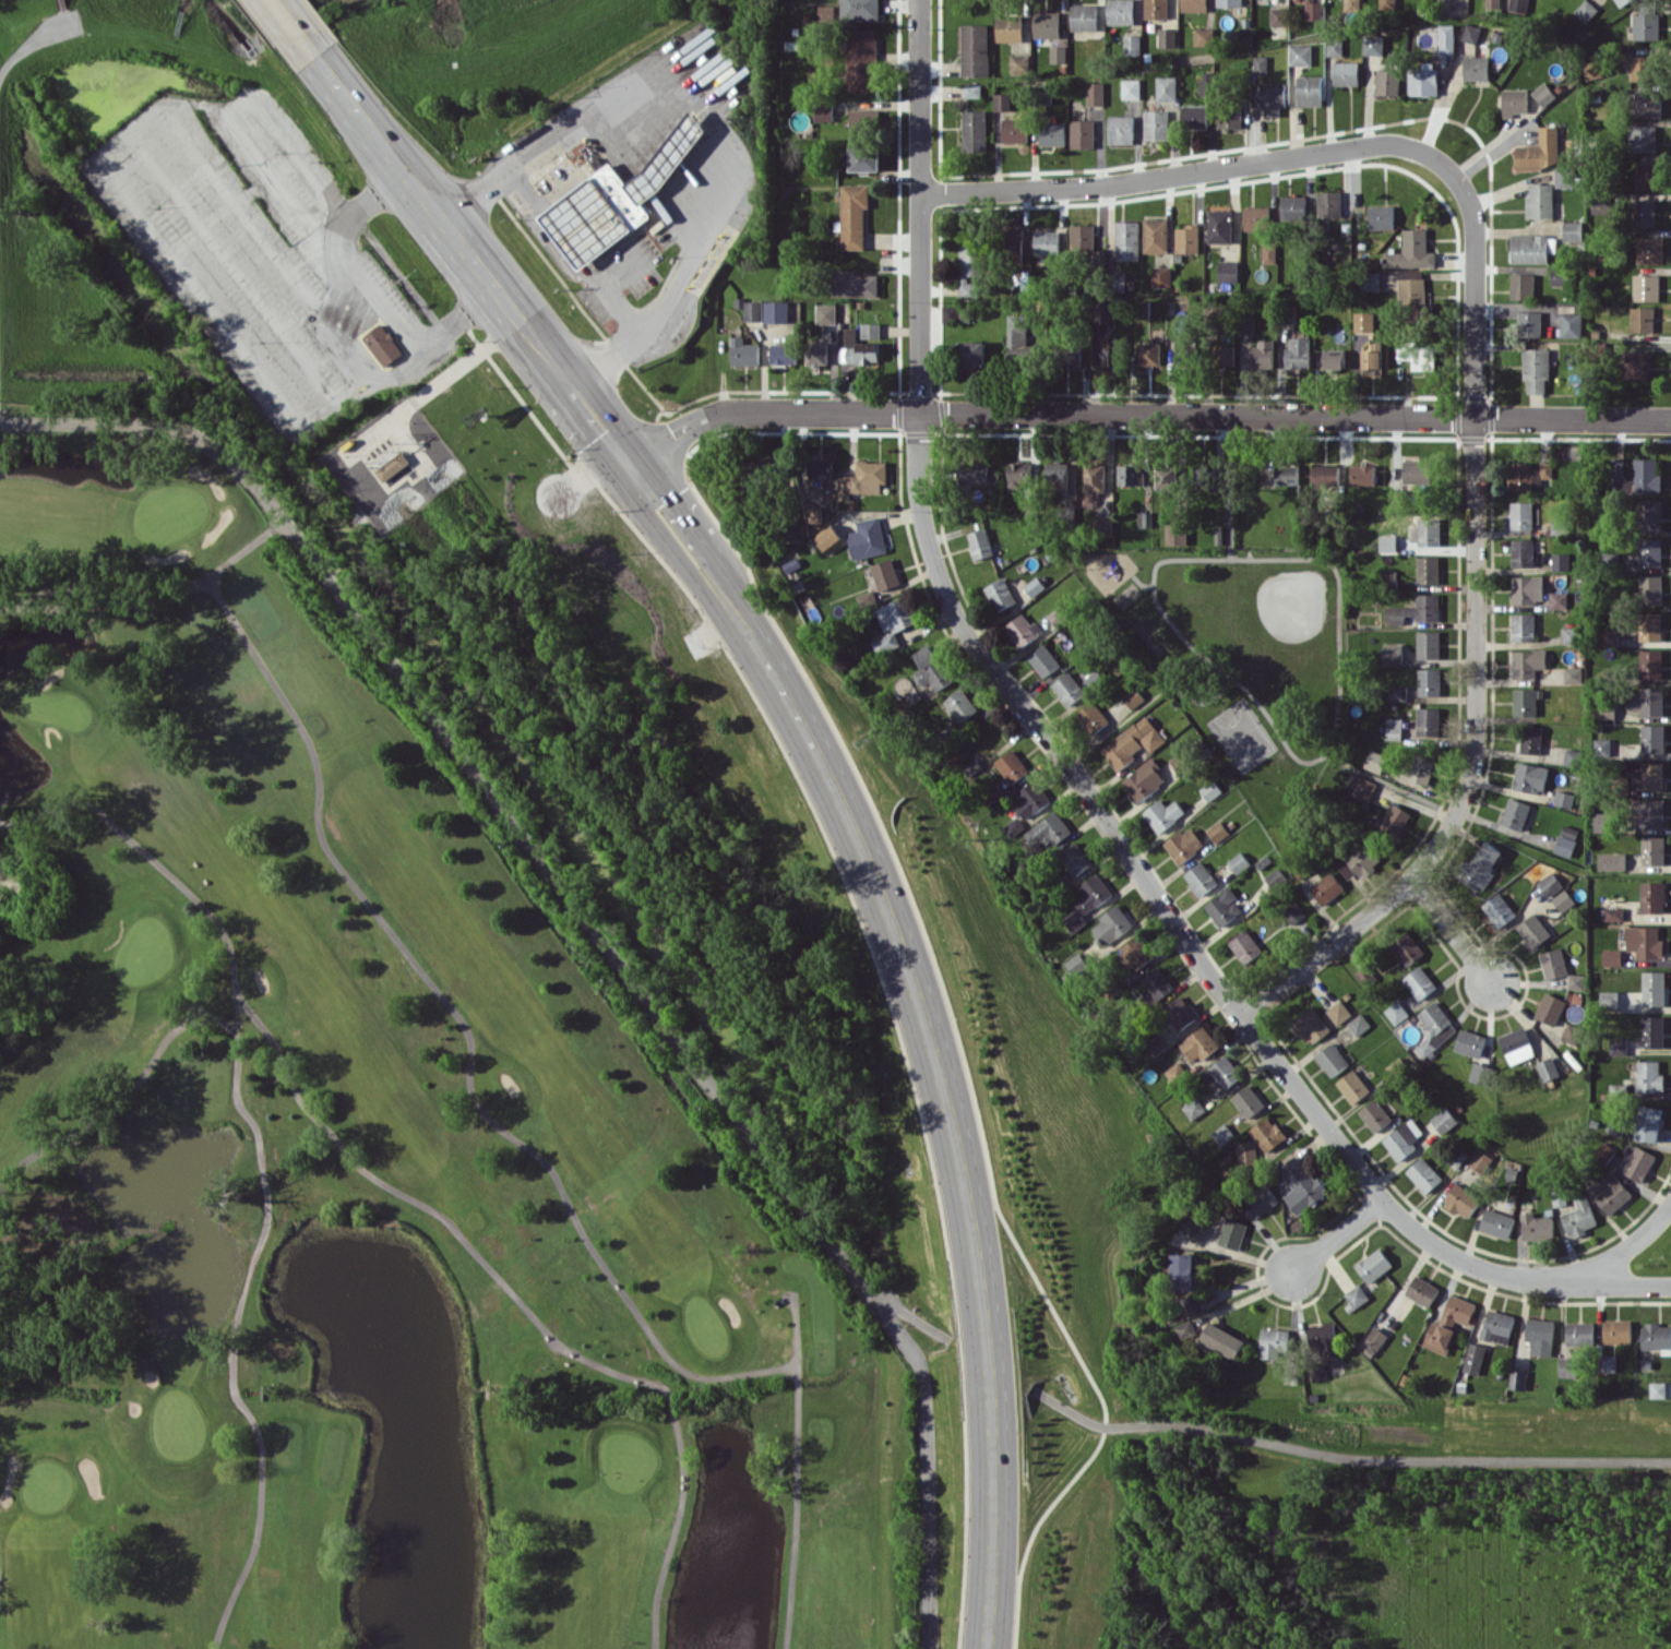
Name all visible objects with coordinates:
building: (1229, 2)
building: (1621, 2)
building: (1492, 3)
road: (63, 4)
building: (1387, 4)
building: (1518, 4)
building: (1194, 5)
building: (1351, 5)
building: (860, 9)
building: (1156, 9)
building: (1313, 10)
building: (1586, 10)
building: (1121, 12)
building: (826, 13)
building: (1277, 15)
road: (285, 16)
building: (1084, 16)
building: (1047, 24)
building: (1645, 25)
building: (1008, 28)
building: (1470, 33)
building: (1204, 36)
building: (1167, 37)
road: (35, 38)
building: (1447, 38)
building: (1132, 44)
building: (1373, 45)
building: (1095, 46)
building: (1335, 46)
building: (975, 49)
building: (1058, 53)
building: (1300, 55)
building: (862, 60)
building: (1019, 62)
building: (1260, 63)
building: (1640, 67)
building: (1476, 68)
building: (1346, 73)
building: (1387, 81)
building: (1422, 81)
building: (1207, 83)
building: (1167, 87)
building: (1131, 88)
building: (972, 89)
building: (1309, 91)
building: (1095, 93)
building: (1543, 93)
building: (1273, 97)
building: (1002, 100)
building: (1514, 101)
building: (1647, 103)
road: (222, 110)
building: (824, 111)
road: (703, 116)
building: (1195, 116)
building: (1229, 118)
building: (862, 119)
building: (1156, 124)
building: (1121, 129)
building: (975, 130)
building: (1014, 130)
building: (1052, 133)
building: (1082, 133)
building: (1642, 138)
building: (1539, 150)
building: (864, 159)
road: (1181, 174)
building: (1648, 175)
building: (1564, 176)
road: (115, 184)
building: (617, 198)
gas station: (617, 198)
building: (1539, 201)
building: (1328, 203)
road: (919, 204)
building: (1293, 207)
building: (1644, 212)
road: (433, 213)
building: (854, 215)
building: (1381, 217)
building: (1256, 218)
building: (1219, 226)
building: (1572, 230)
building: (1156, 235)
parking lot: (235, 236)
building: (1082, 237)
building: (1013, 238)
building: (1186, 238)
building: (1127, 240)
building: (1047, 242)
building: (1531, 248)
building: (1648, 250)
building: (1411, 251)
building: (1269, 253)
road: (558, 254)
building: (969, 263)
road: (230, 267)
building: (1228, 271)
building: (1161, 276)
building: (1559, 276)
building: (1369, 280)
building: (1020, 282)
building: (855, 284)
building: (1521, 286)
building: (1645, 287)
building: (1413, 295)
road: (381, 296)
building: (752, 310)
building: (776, 311)
building: (1103, 311)
building: (825, 313)
building: (952, 313)
building: (1642, 319)
building: (1363, 321)
building: (1529, 323)
building: (1569, 324)
building: (365, 328)
building: (870, 330)
building: (1018, 338)
road: (332, 346)
building: (858, 348)
building: (743, 351)
building: (1110, 351)
building: (816, 352)
building: (971, 352)
building: (1149, 352)
building: (1298, 352)
building: (783, 354)
building: (1226, 354)
building: (1261, 354)
building: (1418, 354)
building: (1071, 355)
building: (1183, 356)
building: (1372, 357)
building: (1335, 359)
building: (1634, 366)
building: (1536, 369)
road: (766, 409)
road: (898, 411)
road: (1294, 413)
road: (600, 429)
road: (919, 432)
road: (667, 438)
building: (393, 466)
traffic signals: (630, 467)
building: (820, 469)
building: (976, 473)
building: (1416, 473)
building: (1018, 474)
building: (1130, 474)
building: (1205, 474)
building: (1287, 474)
building: (1362, 474)
building: (1325, 475)
building: (1527, 475)
building: (760, 476)
building: (1057, 476)
building: (1166, 476)
building: (1635, 476)
building: (863, 478)
road: (1229, 495)
road: (667, 514)
building: (1520, 514)
building: (1649, 514)
building: (1144, 518)
building: (1175, 533)
building: (1424, 533)
building: (867, 538)
building: (829, 539)
building: (1387, 542)
building: (979, 543)
building: (1521, 552)
building: (1649, 552)
road: (914, 554)
building: (1560, 561)
building: (1428, 570)
road: (87, 572)
building: (884, 574)
building: (1034, 586)
building: (1527, 588)
building: (1649, 589)
building: (999, 594)
road: (152, 600)
building: (1420, 608)
building: (895, 614)
park: (1265, 621)
building: (1523, 626)
building: (1649, 626)
building: (1022, 630)
road: (1475, 631)
park: (1150, 633)
building: (1569, 635)
building: (1610, 636)
building: (884, 643)
building: (1428, 644)
building: (1392, 653)
building: (1042, 659)
building: (1527, 662)
building: (1650, 664)
park: (1245, 665)
building: (930, 668)
building: (1572, 674)
building: (1429, 681)
building: (1066, 689)
building: (1397, 693)
building: (1132, 696)
building: (1646, 701)
building: (1524, 702)
building: (959, 704)
park: (1230, 716)
building: (1090, 717)
building: (1428, 720)
road: (1115, 722)
building: (1393, 728)
building: (1651, 738)
building: (1530, 739)
building: (1132, 741)
building: (1602, 745)
building: (1574, 757)
building: (1375, 761)
building: (1179, 762)
park: (1263, 764)
building: (1010, 766)
building: (1419, 767)
building: (1648, 775)
building: (1528, 777)
building: (1143, 779)
road: (1386, 779)
road: (484, 785)
building: (1363, 788)
building: (1209, 790)
building: (1030, 798)
building: (1563, 798)
building: (1648, 812)
building: (1515, 813)
building: (1162, 814)
building: (1396, 820)
building: (1602, 822)
building: (1012, 826)
building: (1048, 829)
building: (1217, 831)
building: (1566, 840)
building: (1183, 844)
building: (1651, 849)
building: (1074, 858)
building: (1358, 860)
building: (1611, 861)
building: (1238, 862)
building: (1481, 867)
building: (1198, 879)
building: (1275, 879)
building: (1549, 883)
building: (1326, 888)
road: (1157, 897)
building: (1651, 897)
building: (1086, 900)
building: (1563, 900)
building: (1222, 907)
building: (1499, 909)
building: (1613, 913)
building: (1110, 924)
road: (1452, 930)
building: (1532, 930)
road: (897, 941)
building: (1644, 941)
building: (1244, 946)
building: (1407, 947)
building: (1135, 952)
building: (1611, 956)
building: (1553, 963)
building: (1076, 964)
building: (1363, 976)
building: (1576, 981)
building: (1156, 982)
building: (1419, 982)
building: (1652, 988)
building: (1608, 1000)
building: (1549, 1008)
building: (1179, 1012)
building: (1338, 1012)
building: (1395, 1012)
building: (1358, 1024)
building: (1310, 1025)
building: (1434, 1027)
road: (466, 1029)
building: (1651, 1030)
building: (1572, 1033)
building: (1469, 1042)
building: (1197, 1043)
building: (1154, 1044)
building: (1516, 1045)
building: (1618, 1045)
building: (1330, 1059)
road: (236, 1064)
building: (1547, 1068)
building: (1174, 1072)
building: (1225, 1072)
building: (1480, 1073)
building: (1648, 1076)
building: (1352, 1086)
park: (350, 1097)
building: (1248, 1101)
road: (302, 1103)
building: (1193, 1108)
building: (1374, 1114)
building: (1444, 1120)
building: (1648, 1123)
building: (1267, 1133)
building: (1221, 1134)
building: (1403, 1138)
building: (1604, 1151)
building: (1245, 1152)
park: (357, 1163)
building: (1638, 1163)
building: (1423, 1174)
building: (1300, 1184)
building: (1612, 1193)
building: (1261, 1199)
building: (1461, 1199)
road: (1370, 1207)
building: (1578, 1217)
building: (1496, 1222)
building: (1536, 1227)
building: (1192, 1228)
building: (1231, 1233)
road: (1336, 1234)
road: (1613, 1255)
building: (1373, 1265)
building: (1181, 1271)
road: (1606, 1284)
building: (1421, 1290)
building: (1356, 1294)
building: (1190, 1303)
building: (1457, 1310)
road: (914, 1321)
building: (1496, 1326)
building: (1184, 1329)
road: (793, 1331)
building: (1616, 1331)
building: (1579, 1333)
building: (1539, 1336)
building: (1656, 1336)
building: (1439, 1337)
building: (1220, 1339)
building: (1373, 1340)
building: (1324, 1341)
building: (1273, 1342)
building: (1472, 1358)
building: (1607, 1362)
building: (1567, 1366)
building: (1517, 1379)
road: (797, 1383)
road: (234, 1389)
building: (1657, 1389)
road: (668, 1400)
road: (1346, 1457)
road: (927, 1469)
road: (994, 1502)
road: (793, 1520)
road: (259, 1522)
road: (1036, 1528)
road: (673, 1529)

